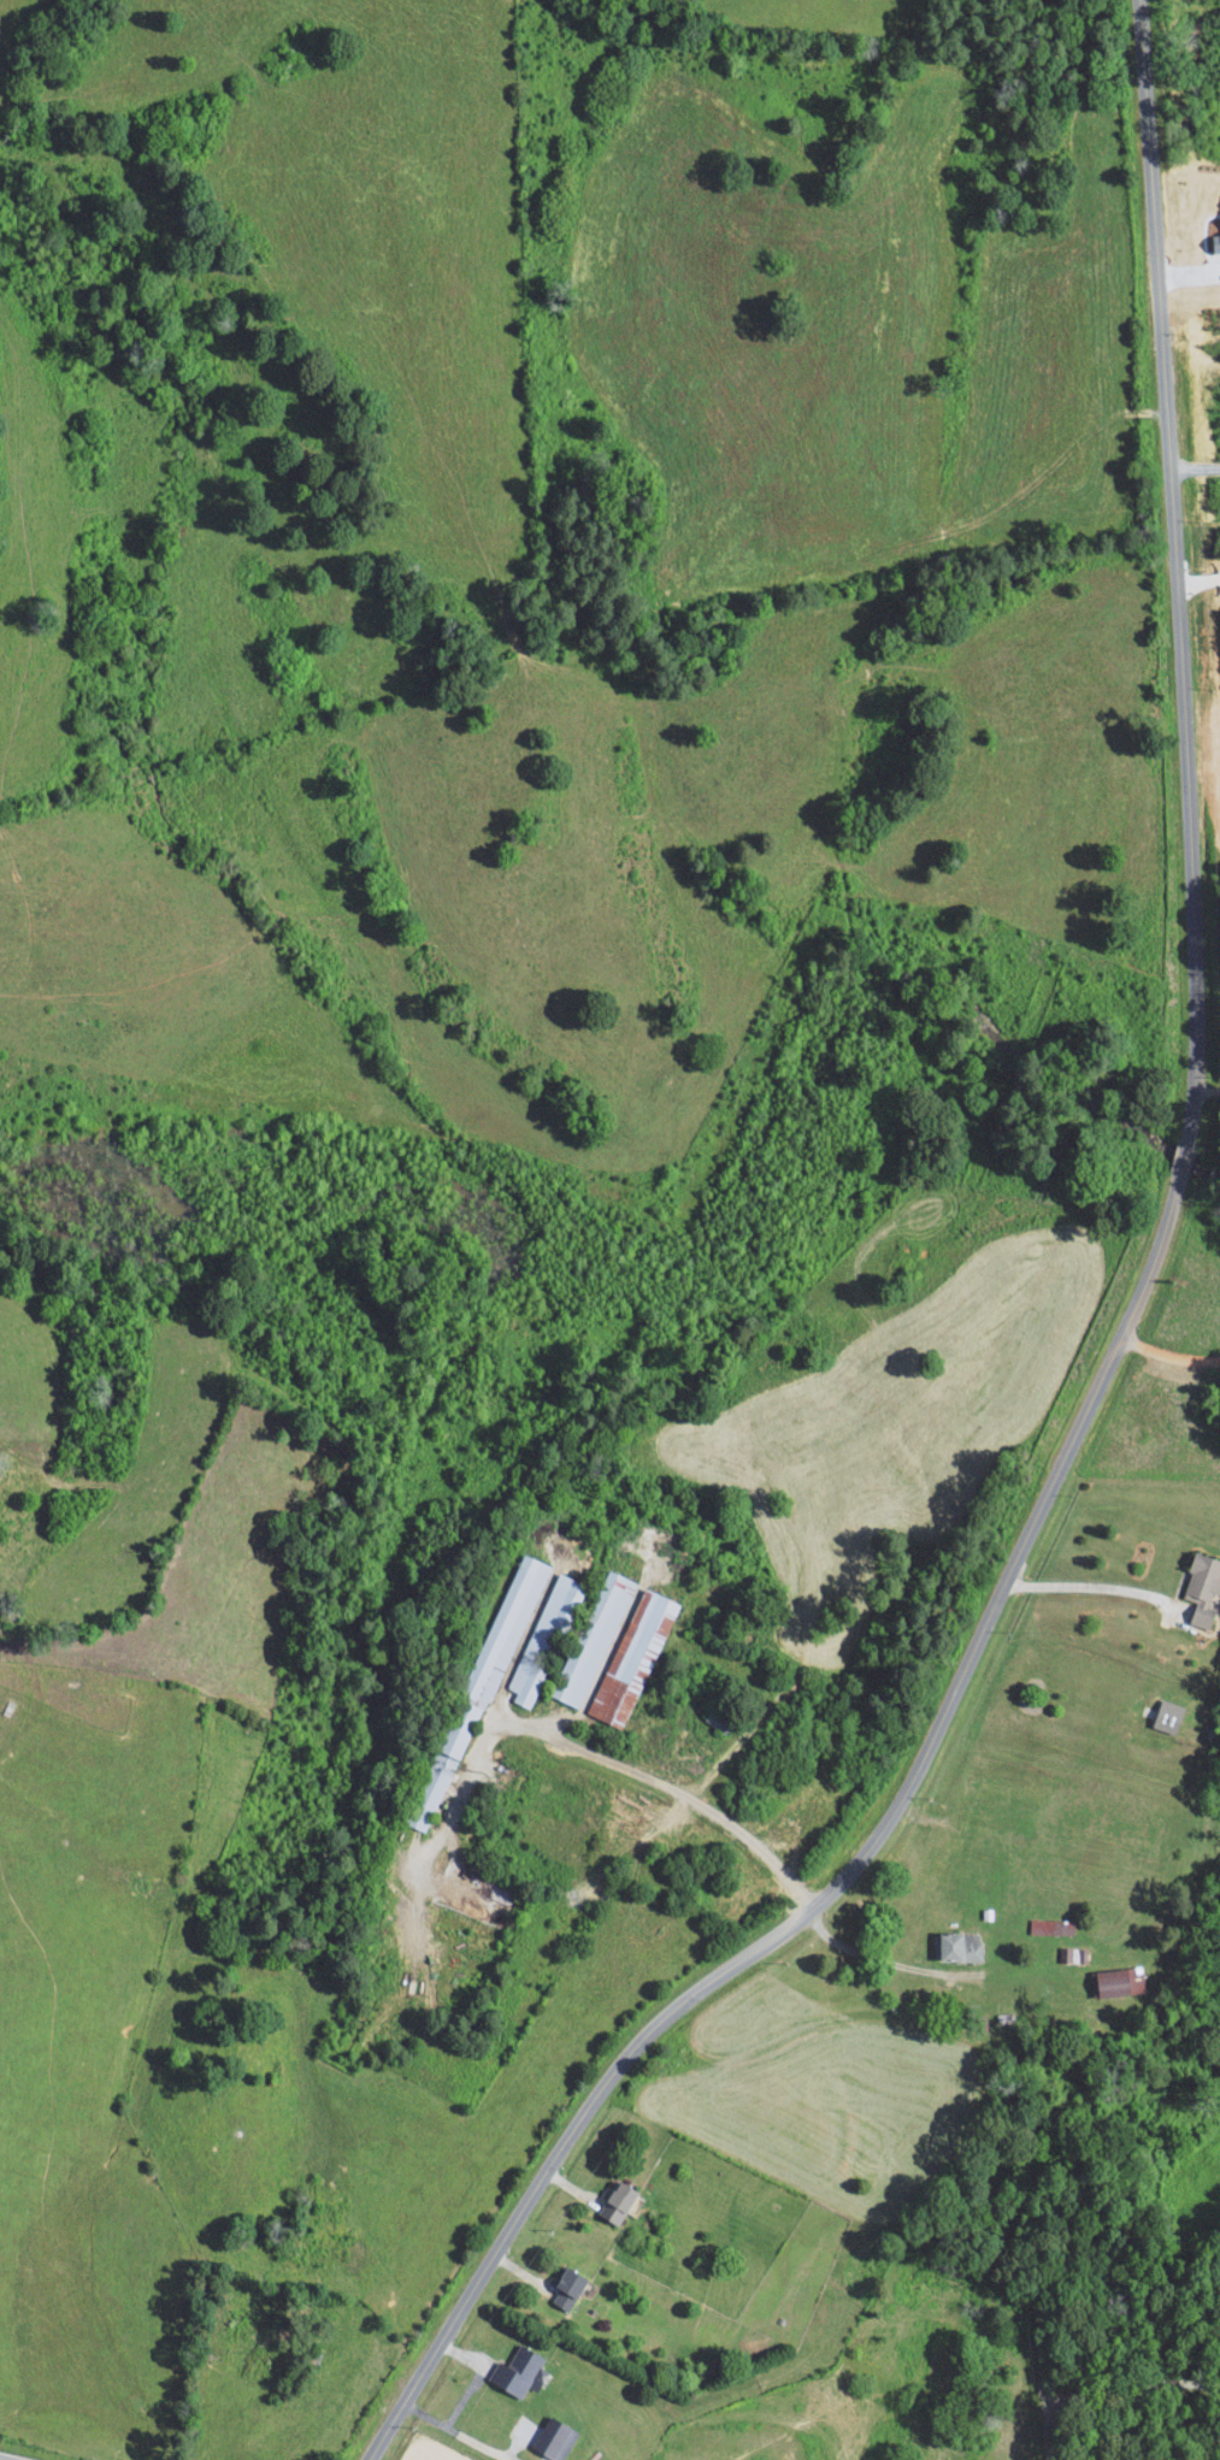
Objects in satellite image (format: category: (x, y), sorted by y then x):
building: (1216, 242)
road: (1196, 468)
road: (1198, 580)
road: (1204, 1090)
road: (1115, 1351)
road: (1169, 1351)
road: (1089, 1586)
building: (1203, 1587)
building: (544, 1638)
building: (594, 1638)
building: (635, 1657)
building: (1169, 1716)
road: (688, 1795)
building: (1053, 1927)
building: (960, 1946)
road: (882, 1960)
building: (1121, 1981)
building: (618, 2202)
building: (568, 2289)
building: (518, 2371)
road: (1133, 2390)
road: (454, 2430)
road: (1049, 2432)
building: (556, 2437)
road: (39, 2450)

